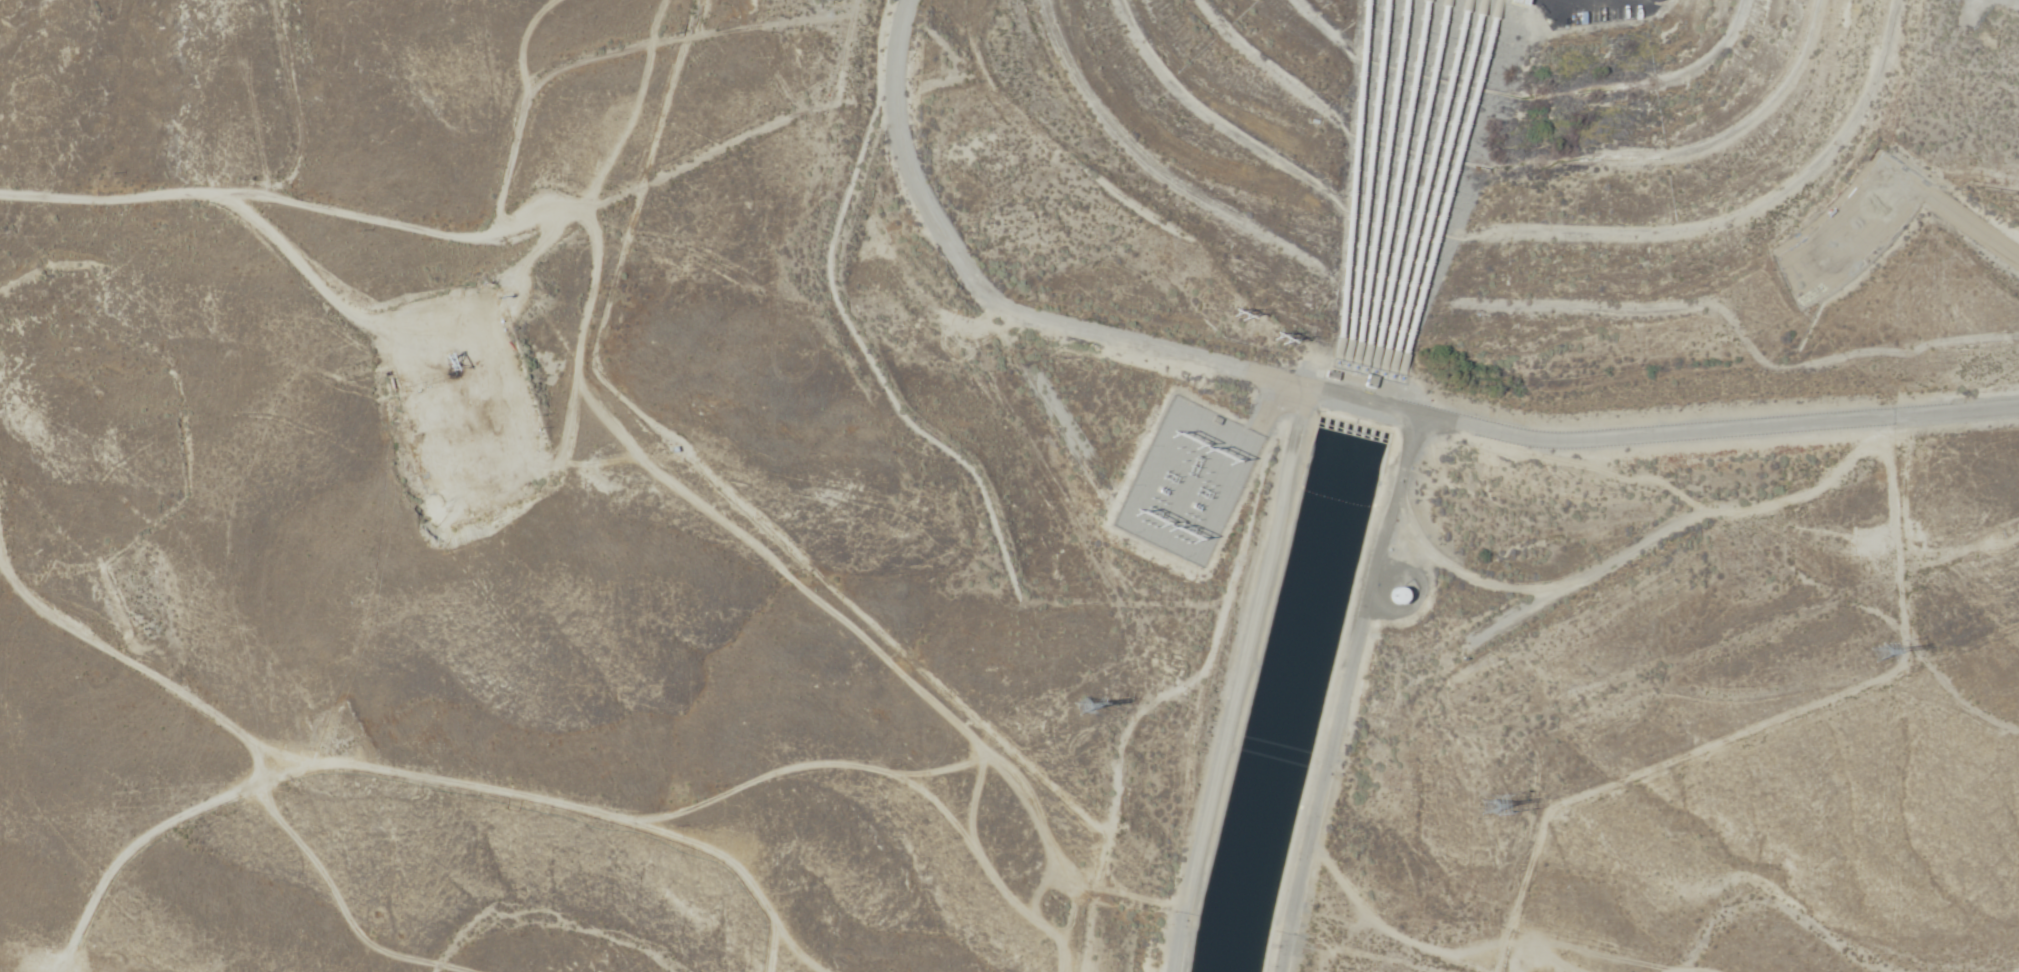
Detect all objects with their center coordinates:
road: (21, 40)
road: (894, 46)
road: (1947, 209)
road: (458, 231)
power tower: (1229, 316)
power tower: (1277, 338)
road: (480, 339)
road: (1384, 406)
power substation: (1188, 479)
building: (1395, 596)
road: (1900, 600)
power tower: (1879, 661)
road: (1238, 679)
road: (1344, 692)
power tower: (1079, 713)
road: (840, 791)
power tower: (1487, 820)
road: (168, 847)
road: (1066, 922)

